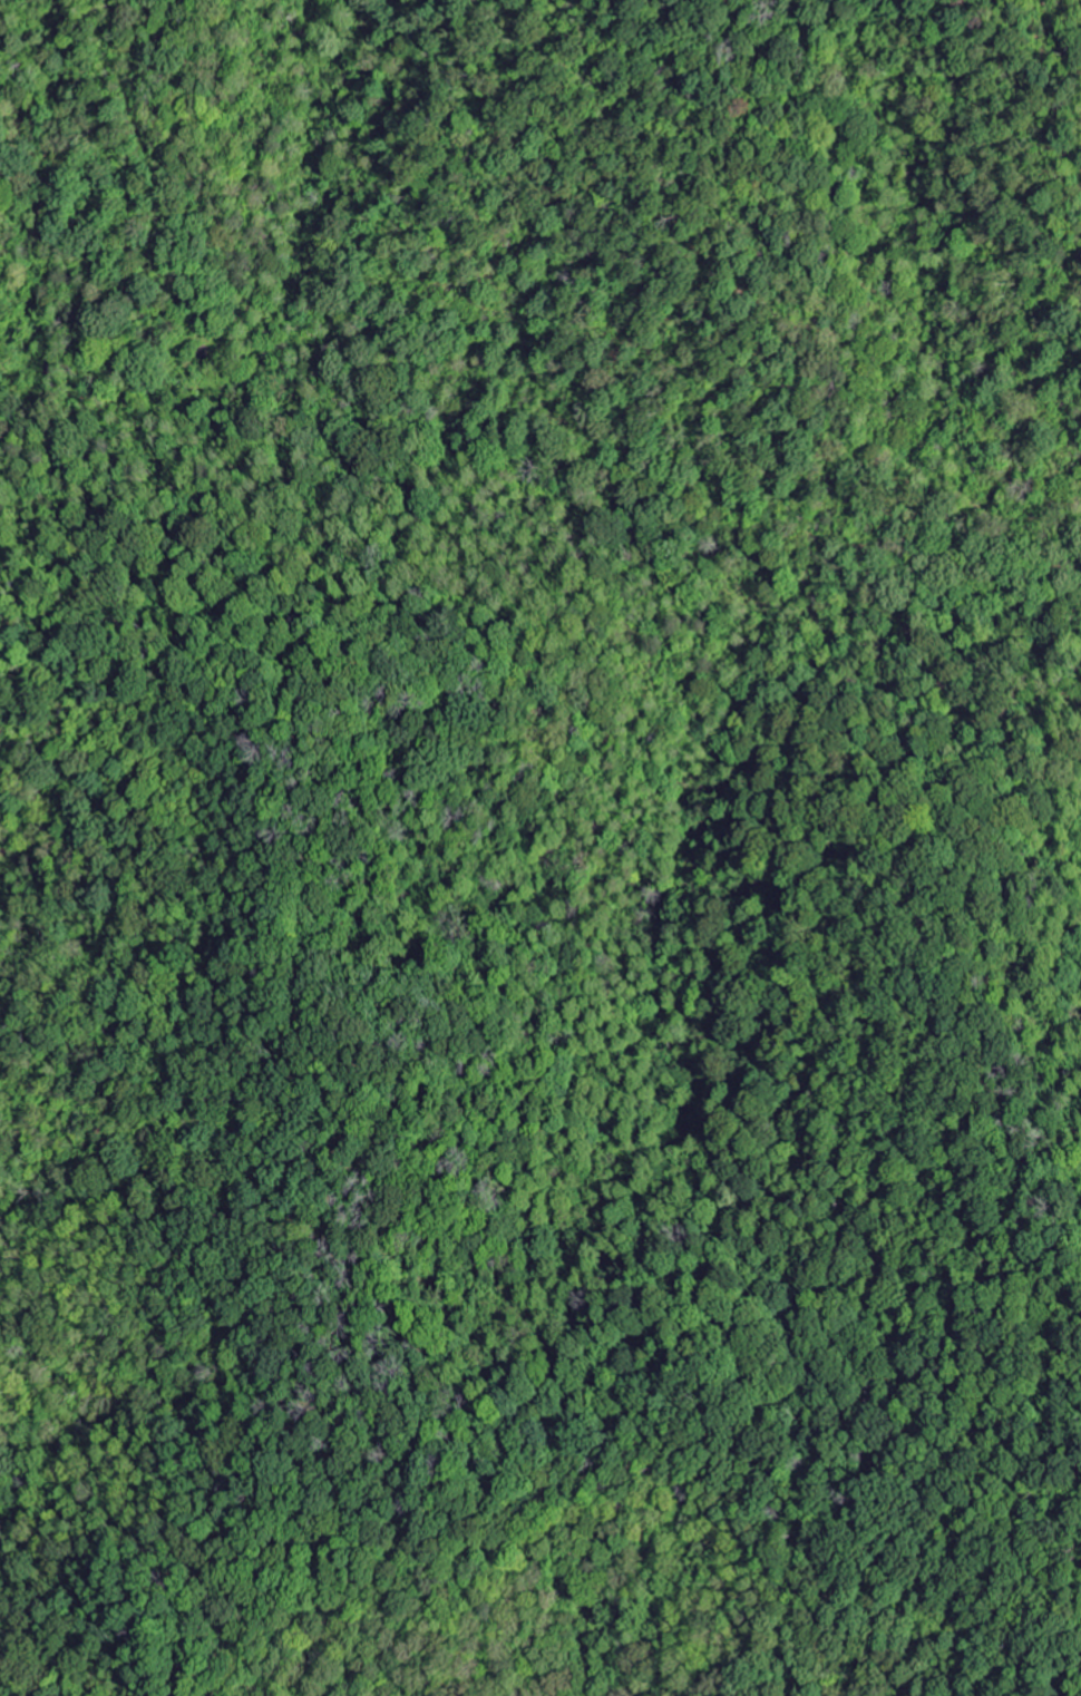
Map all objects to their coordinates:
road: (544, 441)

